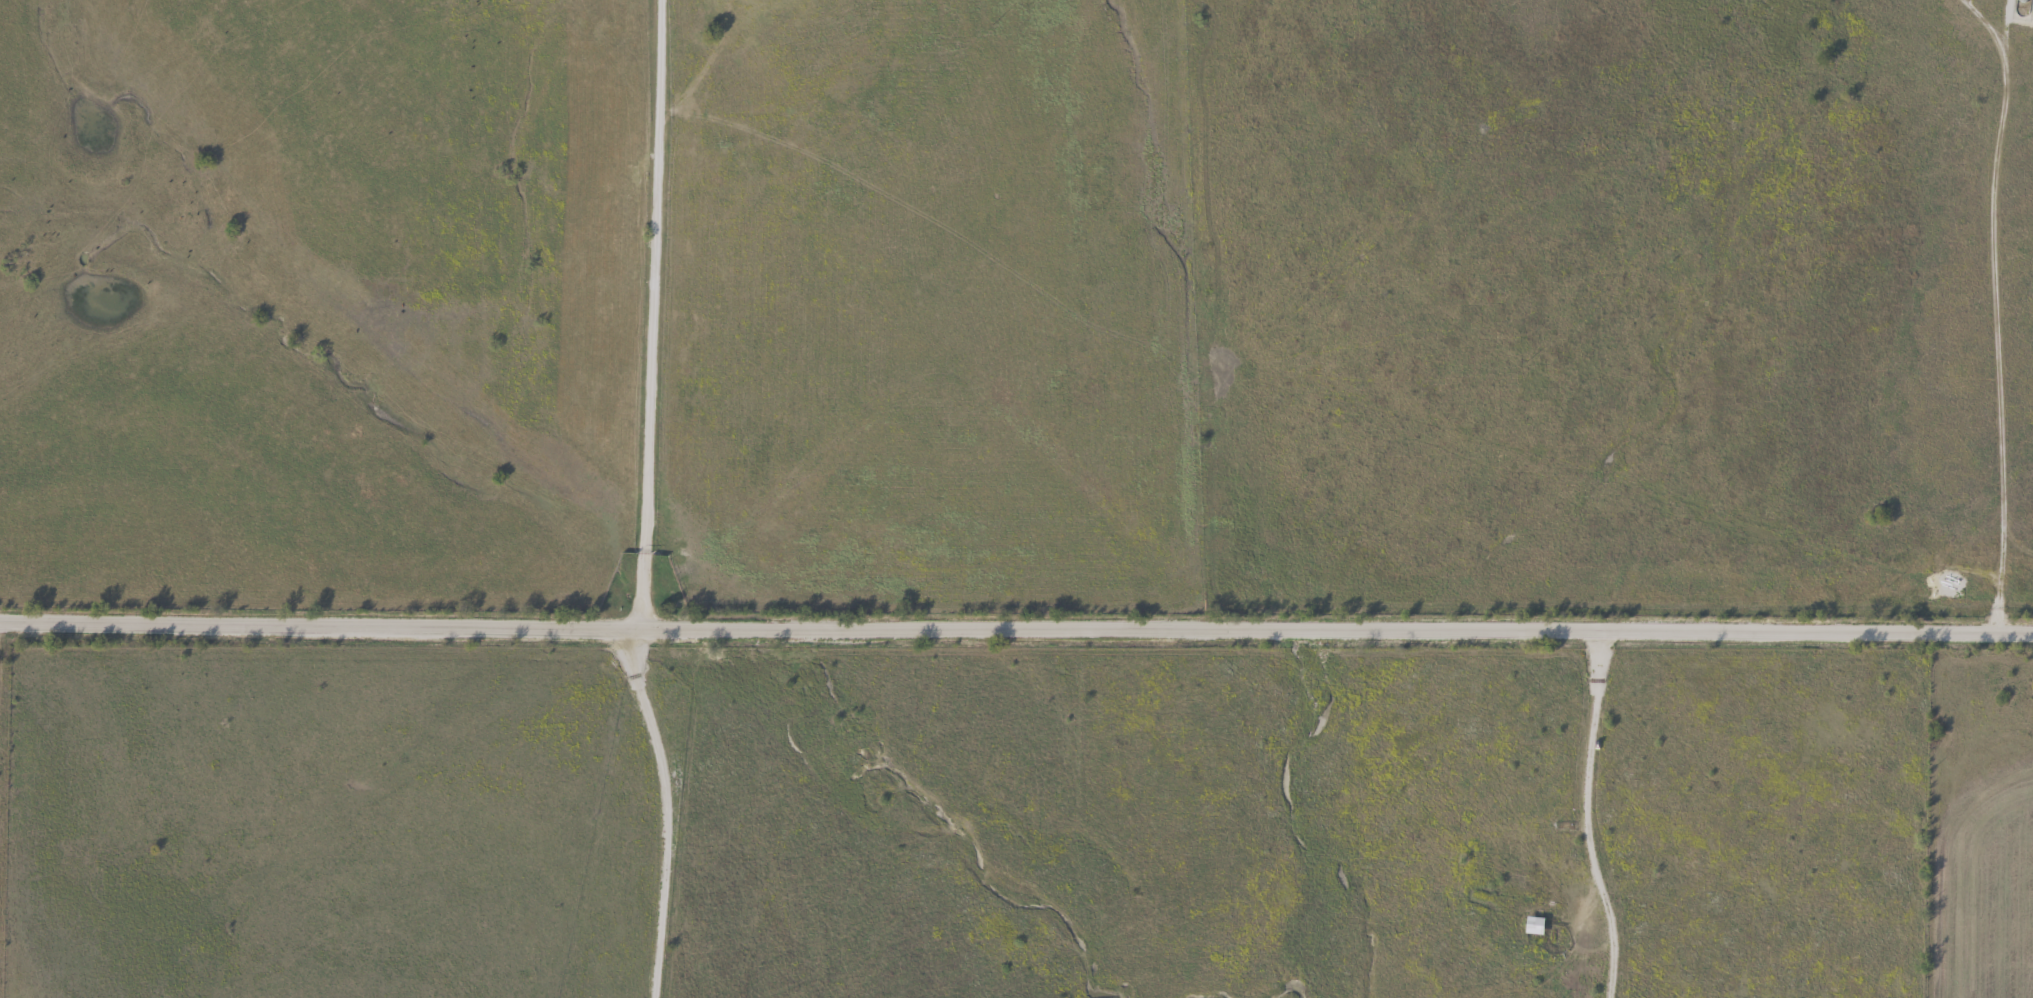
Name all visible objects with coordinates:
road: (1980, 307)
road: (645, 316)
road: (1016, 632)
road: (31, 729)
road: (662, 813)
road: (1582, 816)

